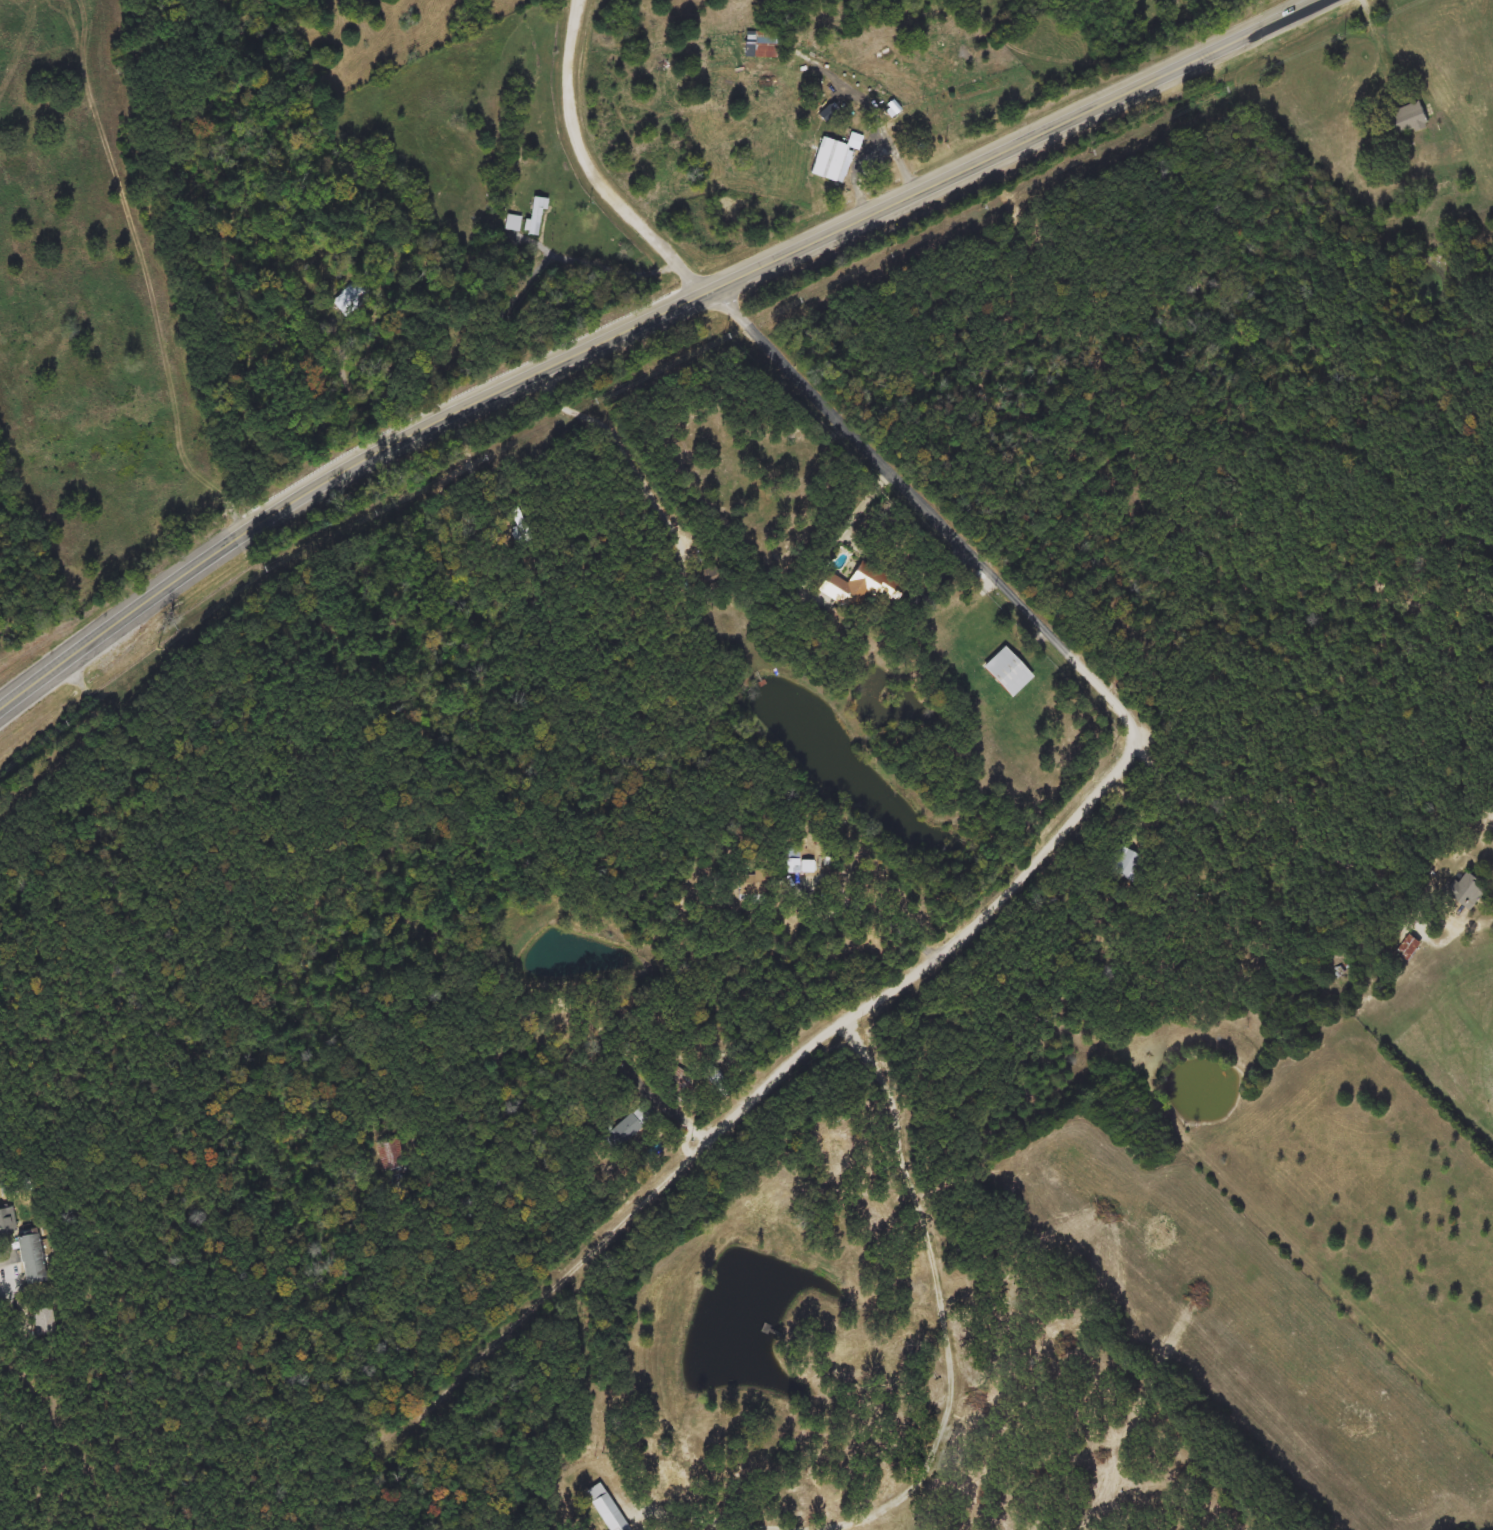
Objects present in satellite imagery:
road: (1374, 28)
building: (765, 45)
building: (1443, 85)
building: (1406, 119)
road: (890, 142)
building: (825, 160)
road: (589, 165)
road: (753, 266)
building: (355, 295)
road: (947, 416)
road: (851, 432)
road: (625, 460)
road: (473, 461)
building: (856, 588)
road: (99, 633)
building: (1005, 673)
road: (171, 717)
building: (792, 862)
building: (745, 885)
building: (1468, 890)
road: (871, 913)
road: (1475, 924)
road: (1426, 936)
road: (956, 942)
road: (857, 945)
building: (1407, 947)
building: (708, 1075)
building: (674, 1082)
road: (664, 1107)
building: (625, 1125)
building: (390, 1153)
building: (3, 1187)
building: (20, 1250)
road: (953, 1385)
building: (602, 1508)

